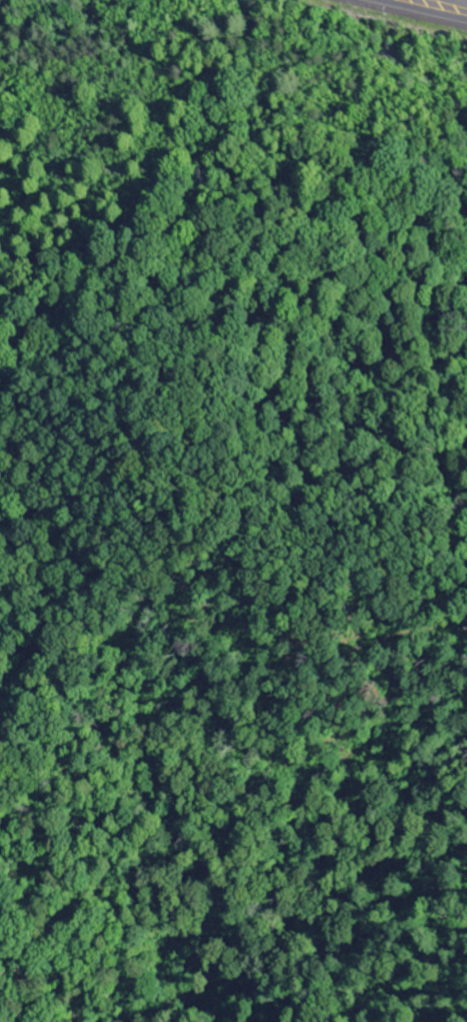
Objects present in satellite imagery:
road: (461, 1)
road: (439, 6)

